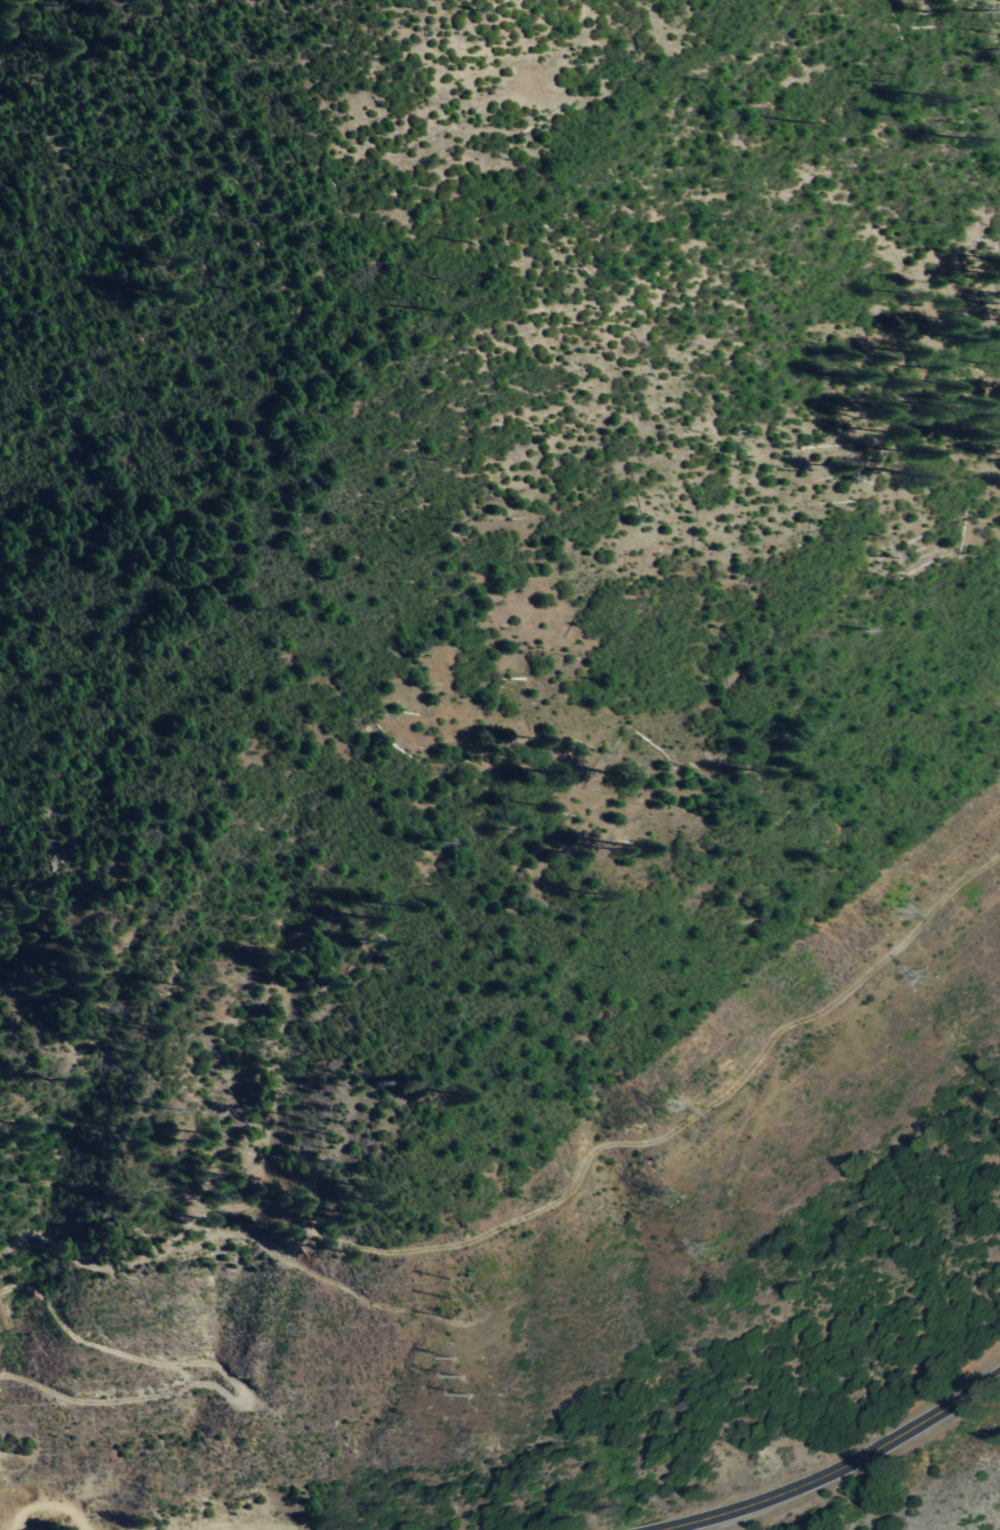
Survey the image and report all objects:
power tower: (888, 911)
power tower: (928, 974)
power tower: (663, 1106)
power tower: (671, 1194)
power tower: (707, 1249)
power tower: (448, 1298)
power tower: (462, 1374)
power tower: (489, 1438)
road: (835, 1470)

